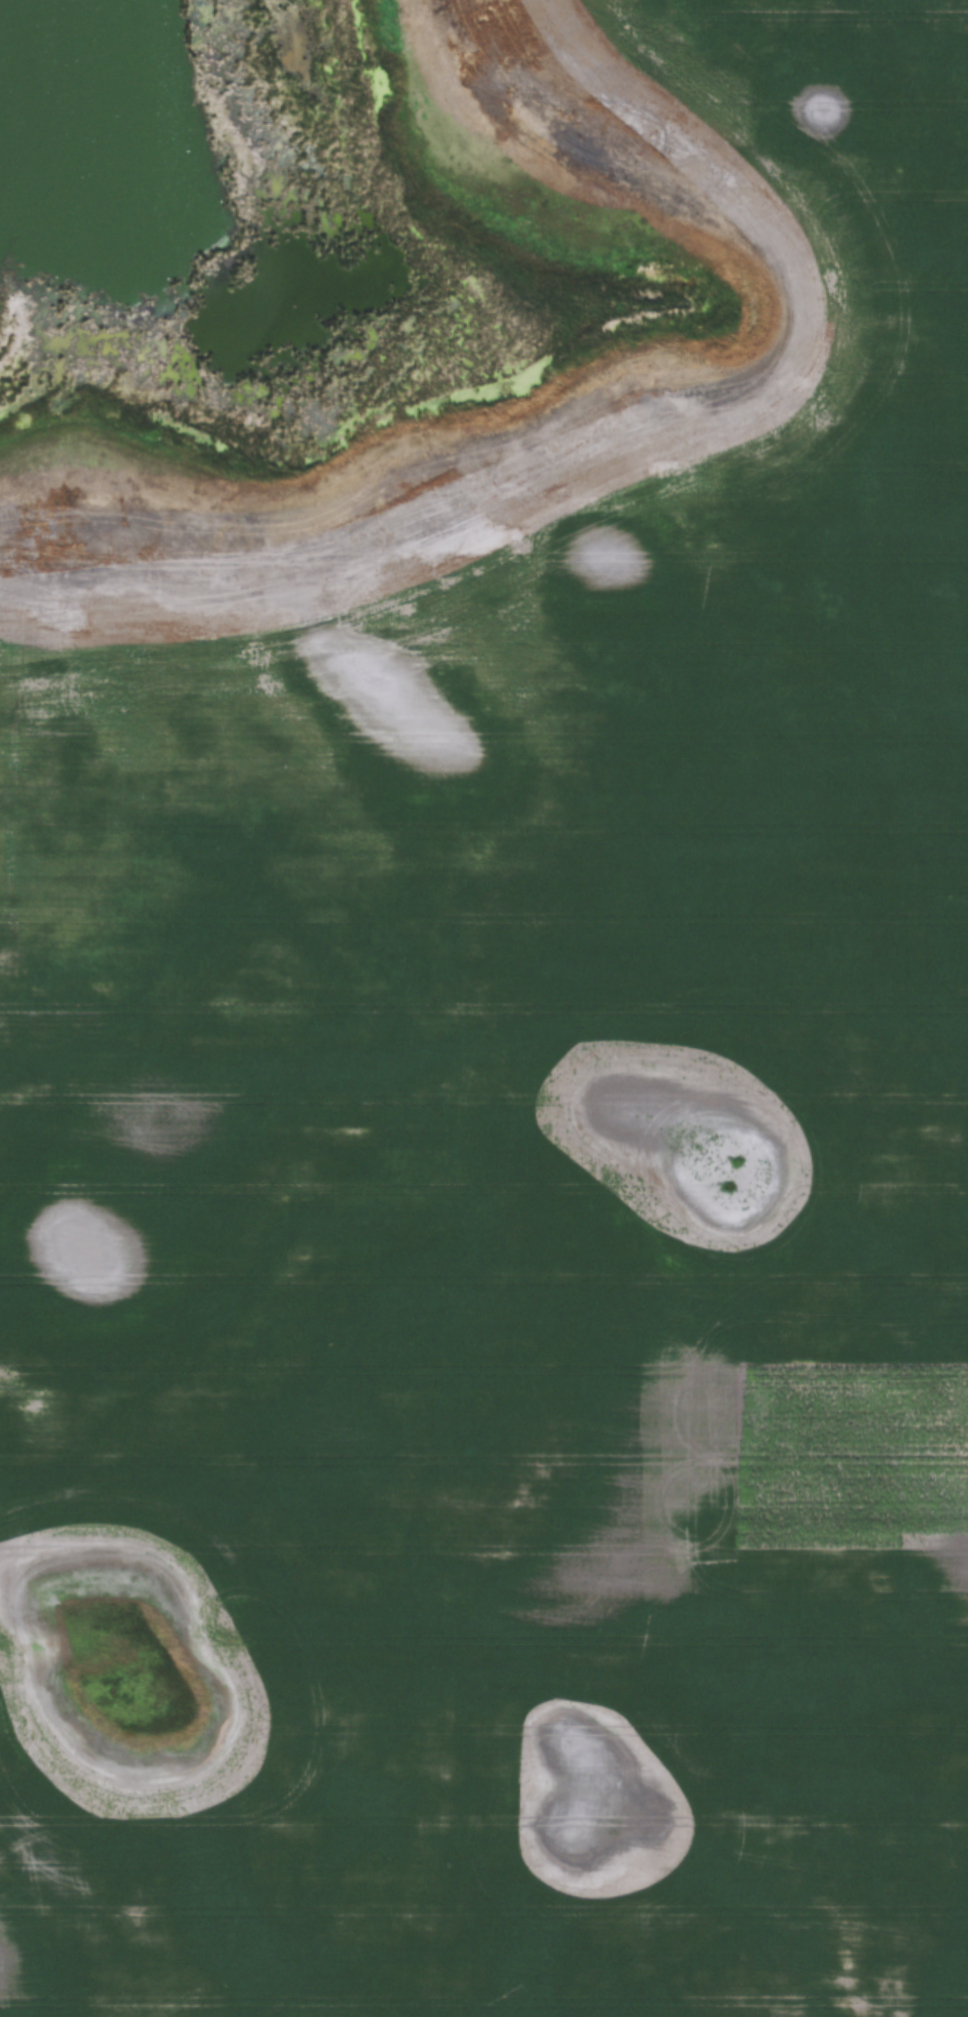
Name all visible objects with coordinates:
road: (484, 1624)

